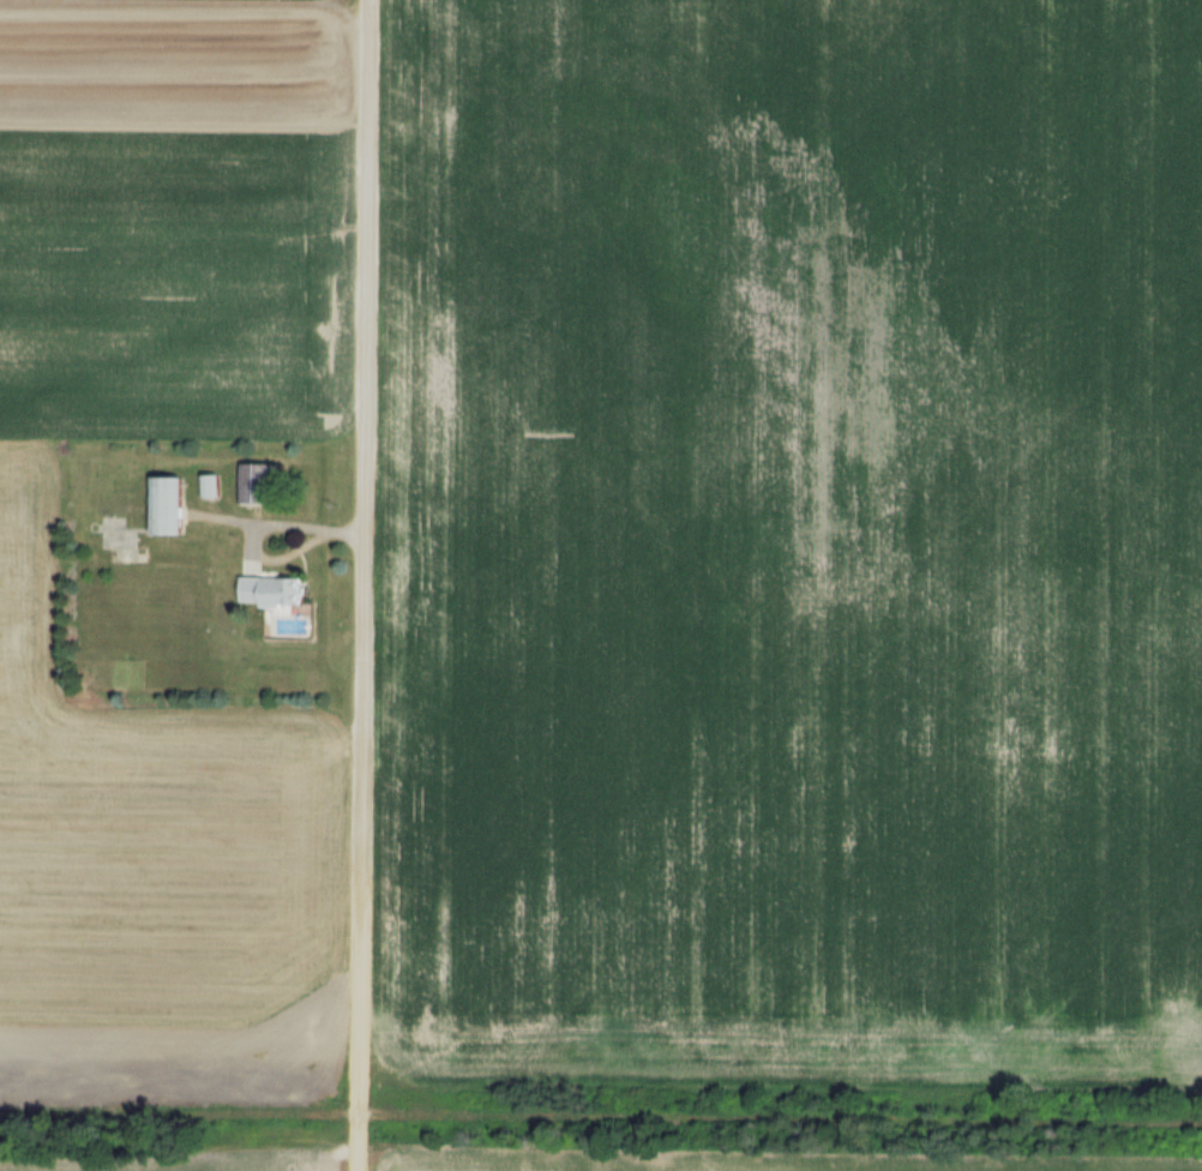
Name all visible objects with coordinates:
building: (254, 482)
building: (211, 485)
building: (168, 504)
road: (283, 523)
road: (276, 556)
road: (360, 584)
building: (270, 590)
railway: (172, 1111)
railway: (787, 1118)

